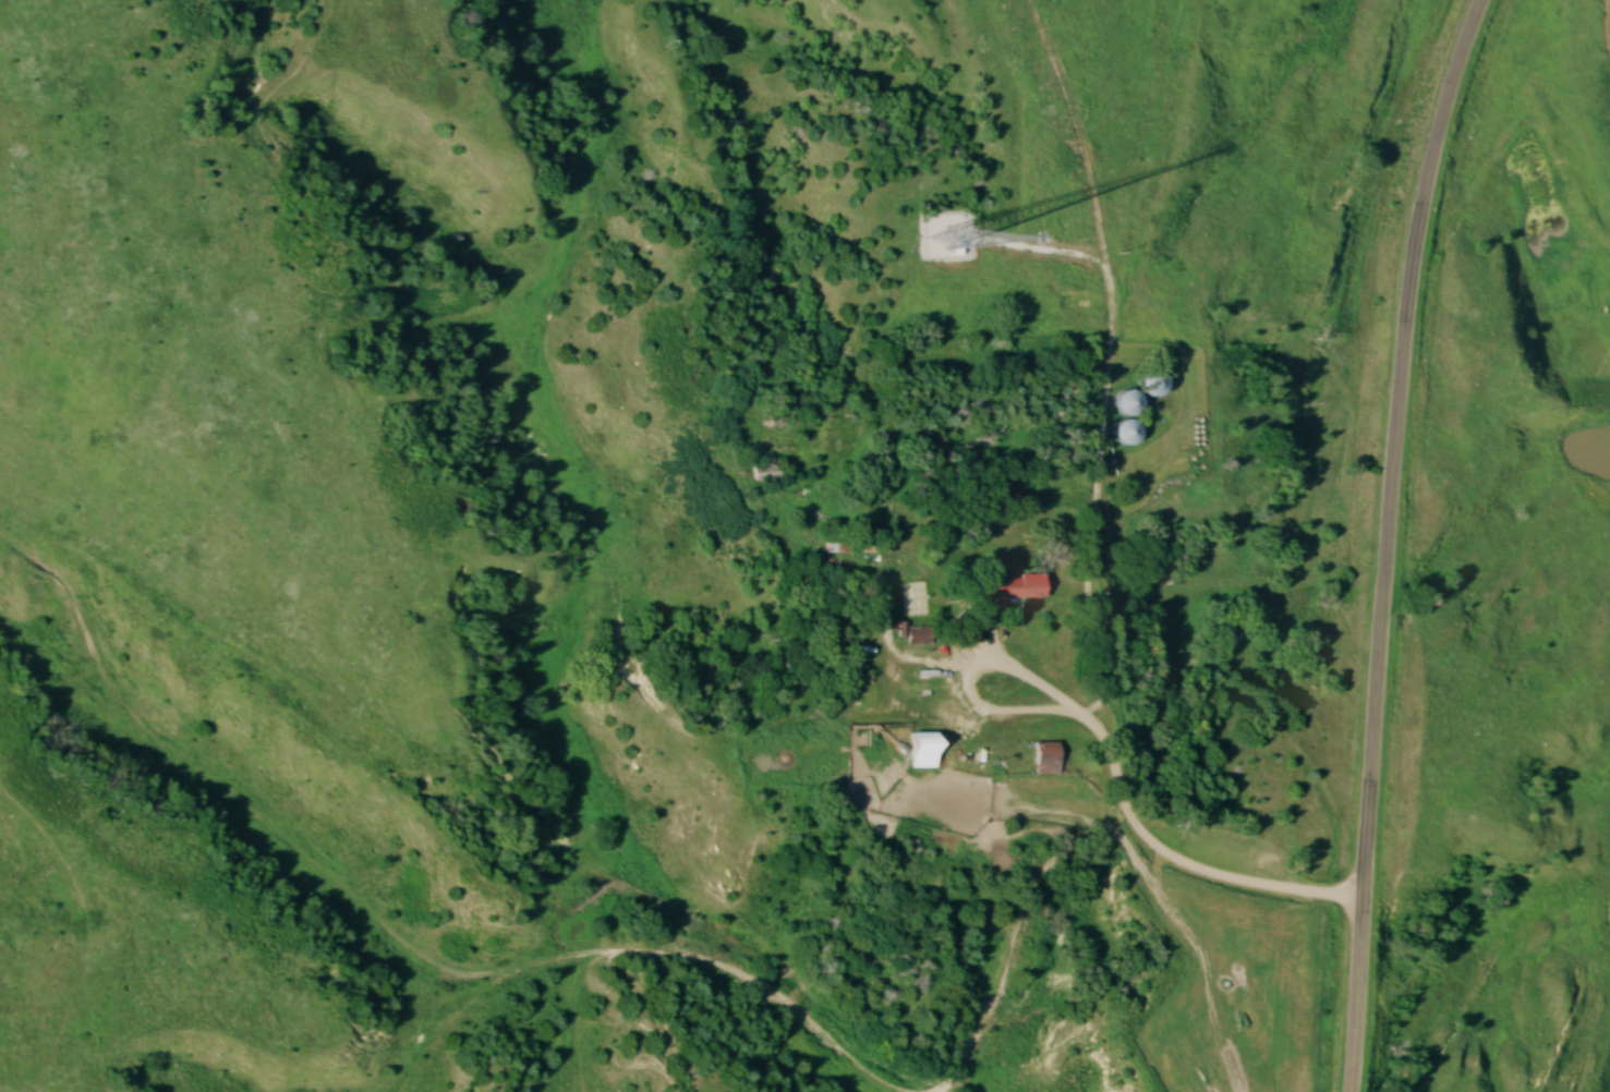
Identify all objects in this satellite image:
building: (1153, 389)
building: (1130, 407)
building: (1128, 436)
road: (1384, 541)
building: (835, 547)
building: (1012, 590)
building: (919, 639)
building: (922, 754)
road: (1113, 759)
building: (1046, 761)

